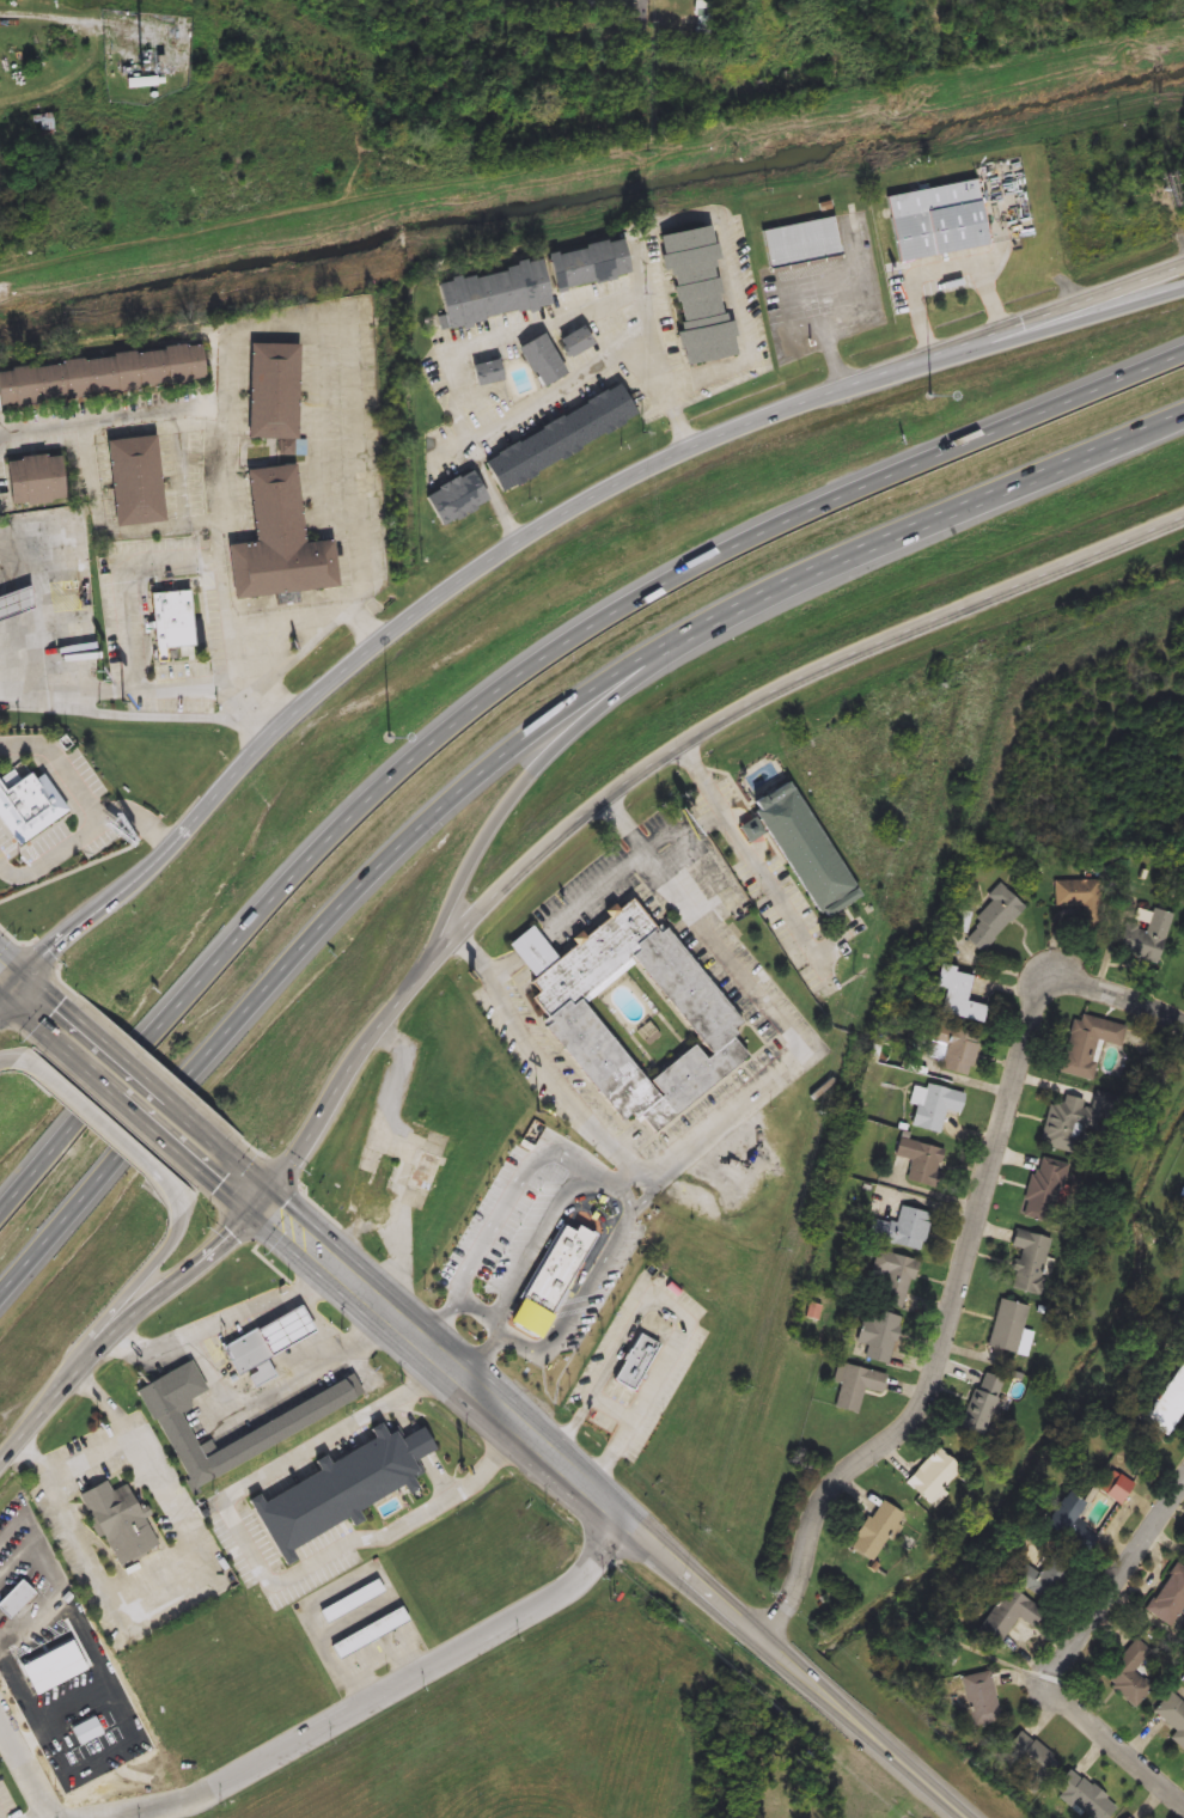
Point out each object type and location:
building: (587, 1)
road: (645, 11)
building: (703, 14)
road: (91, 20)
building: (140, 83)
building: (41, 122)
building: (935, 220)
building: (800, 243)
road: (733, 260)
road: (940, 270)
building: (519, 286)
building: (696, 295)
road: (1015, 324)
road: (532, 325)
road: (1017, 341)
road: (355, 344)
building: (572, 344)
building: (539, 361)
building: (483, 373)
building: (98, 376)
building: (269, 391)
street lamp: (932, 398)
building: (557, 439)
building: (31, 481)
building: (133, 481)
building: (453, 500)
road: (142, 526)
building: (275, 543)
road: (213, 549)
road: (126, 600)
road: (43, 602)
building: (16, 603)
building: (170, 622)
road: (362, 624)
road: (391, 628)
road: (512, 677)
road: (155, 685)
road: (770, 696)
road: (141, 714)
street lamp: (389, 736)
road: (519, 756)
road: (537, 765)
road: (97, 813)
road: (139, 816)
road: (749, 847)
building: (806, 848)
road: (593, 895)
building: (1082, 897)
railway: (904, 909)
building: (993, 919)
building: (1146, 938)
road: (529, 952)
road: (503, 972)
road: (7, 977)
traffic signals: (14, 984)
road: (7, 993)
building: (958, 995)
road: (32, 1000)
building: (563, 1011)
road: (781, 1015)
building: (1087, 1043)
building: (958, 1050)
road: (538, 1055)
road: (6, 1062)
road: (138, 1093)
building: (933, 1106)
building: (1061, 1123)
road: (104, 1130)
building: (922, 1161)
building: (402, 1171)
road: (610, 1185)
building: (1044, 1188)
traffic signals: (263, 1204)
building: (904, 1230)
road: (230, 1237)
road: (538, 1246)
building: (519, 1250)
road: (965, 1263)
building: (1031, 1263)
building: (551, 1275)
building: (891, 1279)
road: (136, 1287)
road: (371, 1297)
road: (673, 1308)
road: (225, 1310)
road: (482, 1316)
building: (1007, 1326)
building: (282, 1330)
building: (878, 1335)
building: (249, 1360)
building: (635, 1361)
building: (855, 1387)
building: (1166, 1399)
building: (978, 1405)
road: (614, 1411)
building: (179, 1420)
building: (281, 1426)
road: (92, 1457)
building: (933, 1477)
building: (340, 1489)
building: (1116, 1489)
building: (1068, 1519)
building: (118, 1521)
building: (877, 1532)
road: (257, 1563)
building: (1040, 1578)
road: (175, 1579)
building: (1168, 1597)
building: (14, 1599)
building: (350, 1602)
building: (1008, 1615)
road: (743, 1622)
building: (367, 1633)
road: (1069, 1649)
road: (429, 1667)
building: (54, 1672)
building: (1129, 1673)
building: (982, 1698)
building: (1172, 1715)
building: (89, 1732)
road: (13, 1734)
building: (1031, 1755)
road: (43, 1789)
building: (1084, 1795)
road: (161, 1808)
road: (53, 1814)
road: (0, 1817)
building: (1128, 1817)

